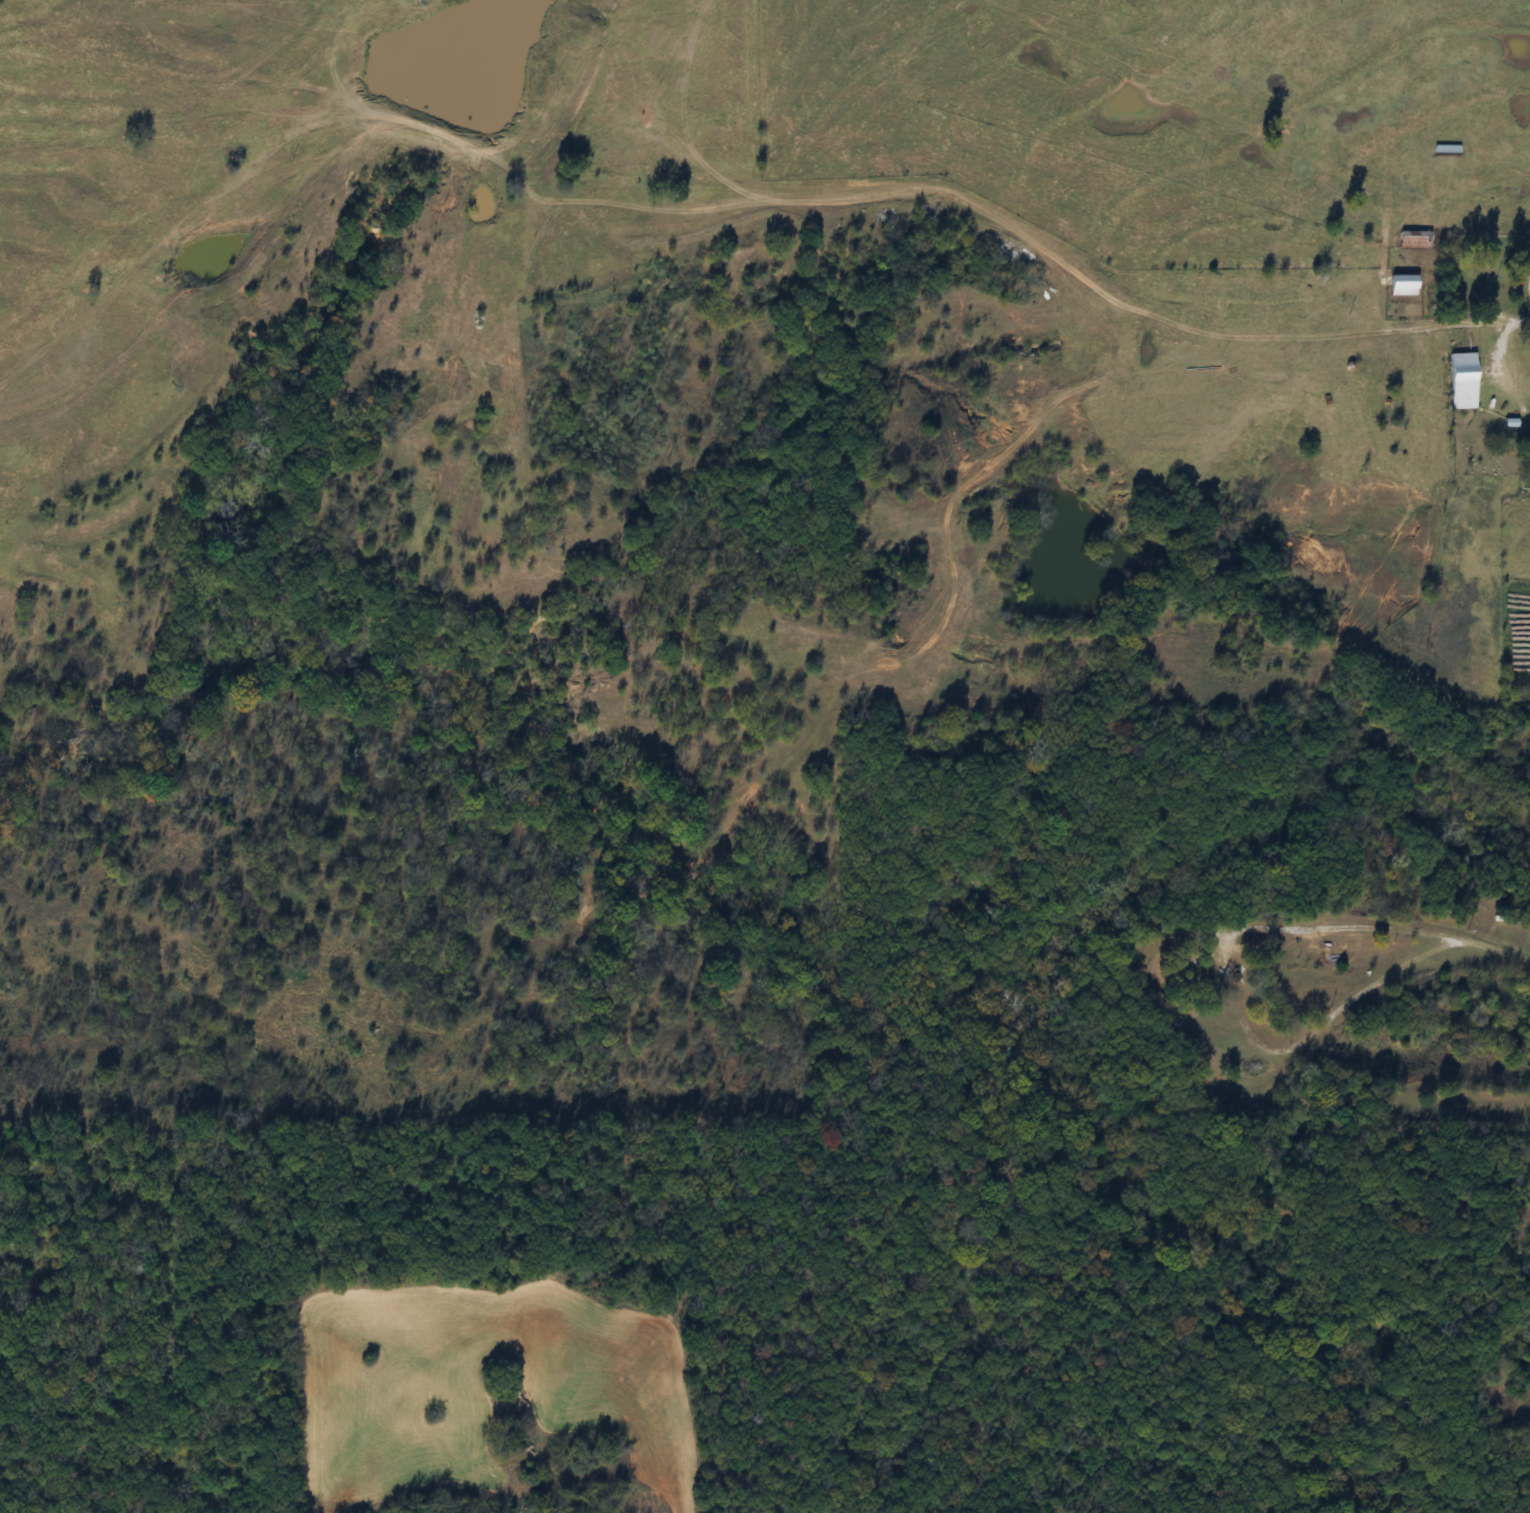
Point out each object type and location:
building: (1445, 150)
building: (1412, 240)
building: (1527, 278)
building: (1401, 286)
building: (1460, 381)
building: (1217, 959)

